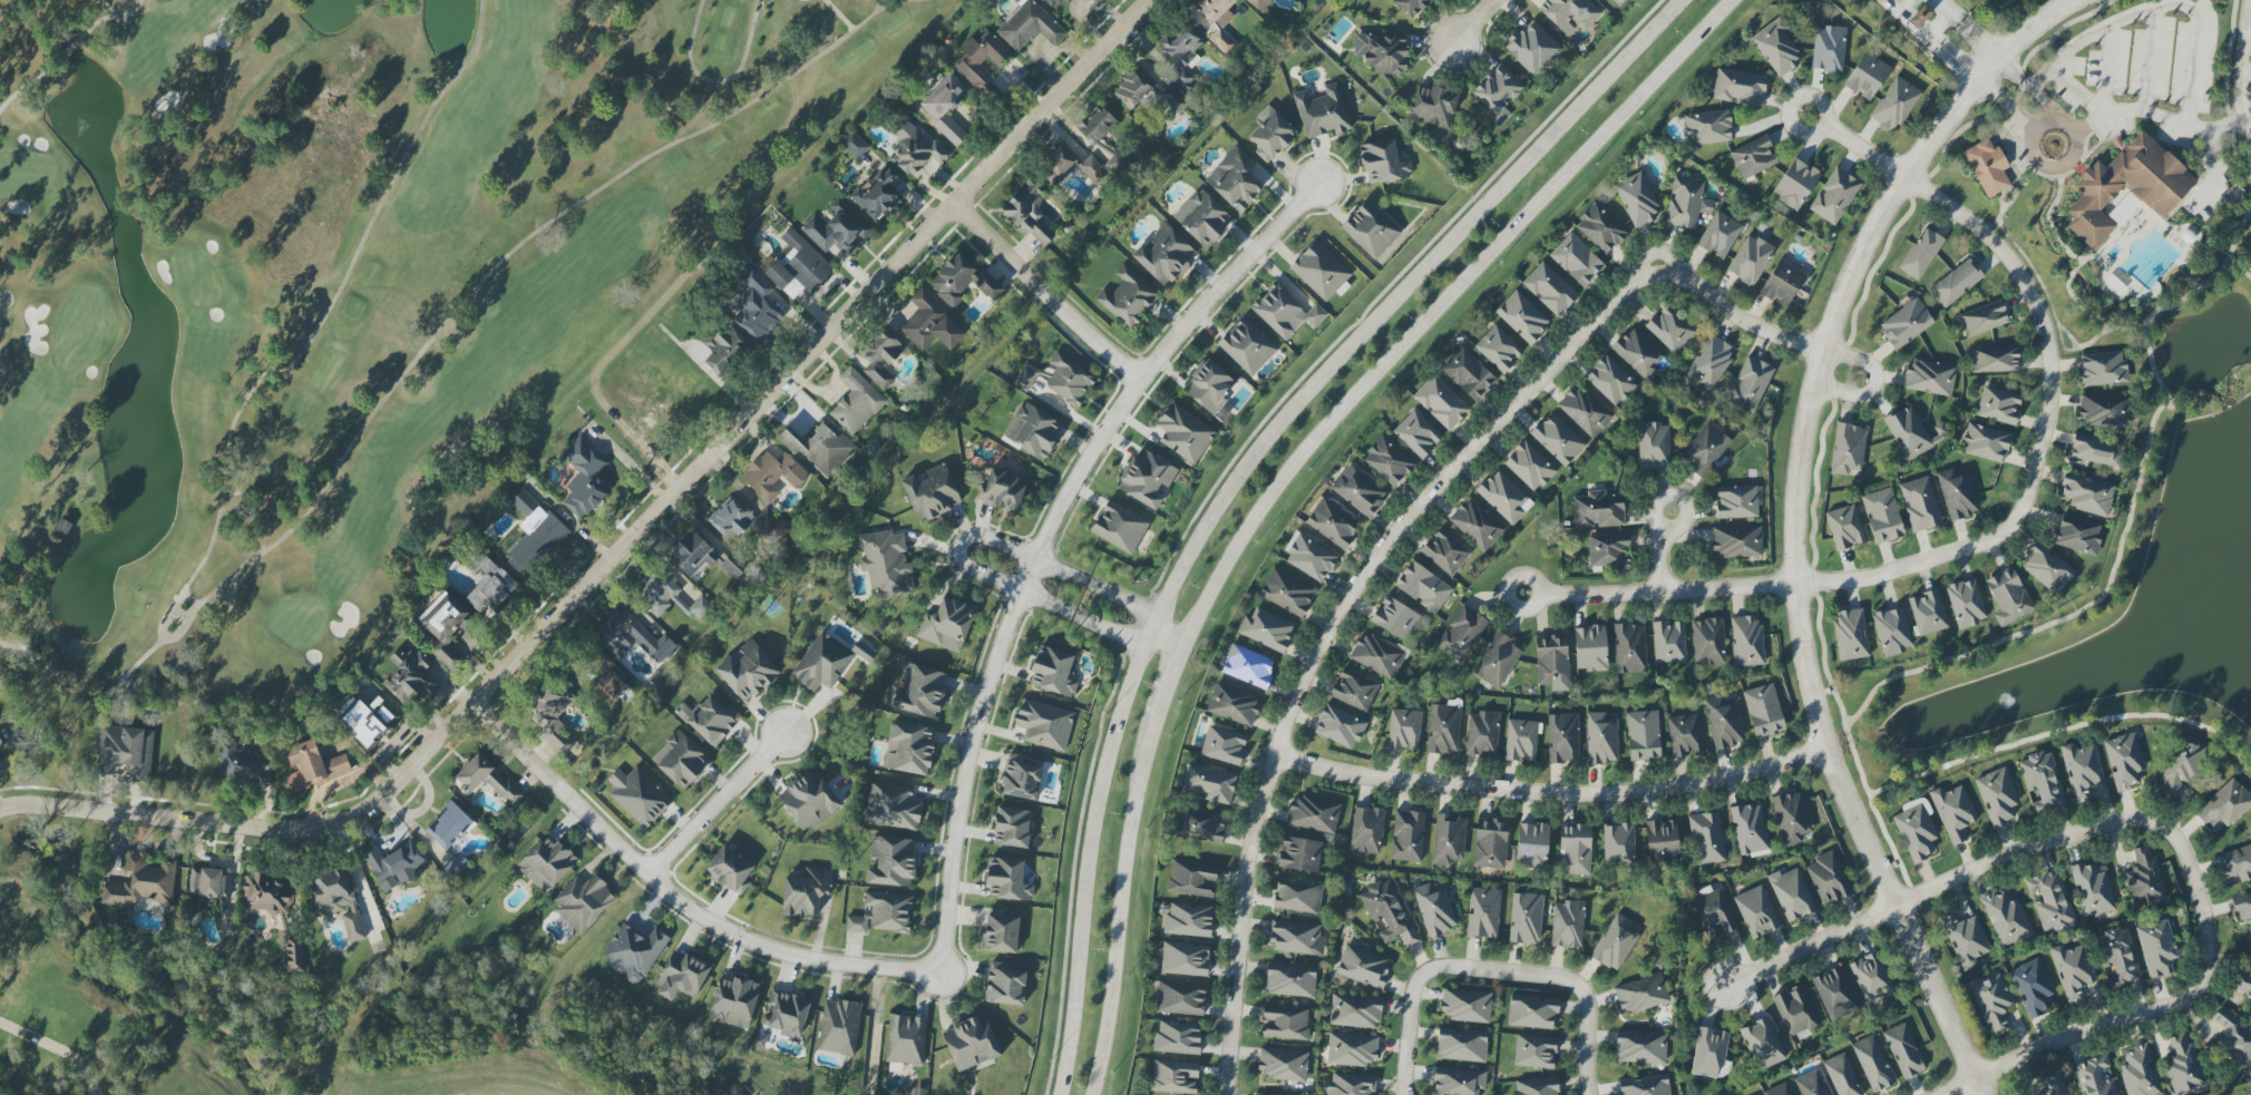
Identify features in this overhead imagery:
building: (1095, 1)
road: (3, 2)
building: (1054, 3)
building: (1264, 3)
building: (1411, 6)
road: (1890, 7)
road: (1903, 7)
road: (2190, 8)
road: (111, 12)
road: (878, 12)
road: (840, 14)
building: (1569, 14)
building: (1920, 17)
building: (1218, 21)
road: (1474, 21)
building: (1030, 27)
road: (1968, 28)
road: (2028, 31)
road: (70, 48)
building: (1532, 48)
road: (1936, 48)
building: (1776, 49)
building: (1828, 49)
building: (1382, 51)
building: (1181, 56)
building: (981, 60)
road: (2244, 63)
road: (2015, 72)
building: (1867, 77)
road: (718, 80)
road: (31, 82)
building: (1740, 87)
building: (1133, 88)
building: (1498, 92)
building: (1172, 99)
building: (1896, 104)
road: (2047, 104)
road: (2007, 106)
building: (1434, 107)
building: (946, 108)
road: (2126, 111)
building: (1323, 113)
building: (1098, 125)
building: (1708, 128)
road: (1812, 133)
building: (1271, 136)
building: (854, 145)
building: (915, 149)
building: (1753, 157)
building: (1112, 158)
road: (2066, 160)
building: (1384, 163)
building: (1071, 166)
building: (1988, 167)
building: (1235, 179)
building: (1795, 184)
building: (2127, 187)
building: (877, 194)
building: (1834, 196)
building: (1637, 201)
building: (1687, 203)
building: (1030, 217)
building: (1202, 218)
building: (838, 229)
building: (1371, 229)
building: (1600, 229)
building: (1719, 235)
road: (1002, 251)
building: (1921, 254)
building: (1165, 256)
building: (1750, 260)
building: (1577, 261)
building: (799, 265)
road: (2017, 268)
building: (1322, 271)
building: (954, 280)
building: (1783, 283)
building: (1957, 283)
building: (988, 286)
building: (1549, 289)
park: (344, 294)
building: (1128, 299)
road: (10, 303)
building: (758, 307)
building: (1285, 312)
building: (1522, 317)
building: (1984, 319)
building: (930, 324)
building: (1906, 324)
building: (1669, 329)
road: (1095, 339)
fountain: (2216, 344)
building: (723, 348)
building: (1247, 348)
building: (1498, 349)
building: (1638, 354)
building: (880, 359)
building: (1995, 360)
building: (1709, 362)
building: (2103, 369)
building: (1469, 374)
building: (1930, 377)
building: (1061, 379)
building: (1610, 381)
road: (1875, 382)
building: (1750, 384)
building: (1209, 388)
building: (657, 397)
building: (856, 402)
building: (1441, 402)
building: (1998, 405)
building: (1584, 411)
building: (2105, 411)
building: (1033, 431)
building: (1185, 433)
building: (1908, 433)
building: (1417, 434)
building: (1939, 437)
building: (1558, 440)
building: (1987, 442)
building: (1654, 446)
building: (1704, 448)
building: (820, 449)
building: (1848, 449)
building: (2096, 451)
building: (1387, 461)
building: (1529, 467)
building: (774, 476)
road: (1236, 477)
building: (585, 478)
road: (1284, 478)
building: (1146, 479)
building: (1003, 489)
building: (1358, 491)
building: (930, 493)
building: (1958, 493)
building: (2087, 493)
building: (1504, 497)
building: (1736, 502)
building: (1920, 505)
building: (1598, 510)
building: (1882, 516)
building: (729, 519)
building: (1333, 524)
building: (1475, 525)
road: (1656, 525)
building: (771, 526)
building: (1119, 527)
building: (1844, 527)
building: (62, 529)
building: (534, 534)
road: (1046, 535)
building: (2077, 535)
road: (630, 539)
building: (1737, 541)
road: (962, 545)
road: (1384, 546)
building: (1608, 550)
building: (1444, 553)
building: (693, 556)
building: (1309, 558)
road: (1662, 560)
road: (1921, 563)
building: (886, 564)
building: (2046, 568)
road: (1795, 575)
road: (1536, 583)
building: (490, 586)
building: (1423, 587)
building: (657, 590)
road: (1668, 592)
building: (1287, 593)
building: (2008, 596)
building: (1966, 604)
building: (700, 608)
road: (202, 612)
building: (1927, 613)
building: (1395, 617)
building: (947, 623)
building: (446, 627)
building: (1266, 629)
building: (1892, 632)
building: (1461, 633)
building: (1851, 635)
building: (631, 636)
road: (1168, 638)
building: (1668, 642)
building: (1708, 642)
building: (1747, 642)
building: (1590, 648)
building: (1630, 648)
building: (1376, 656)
building: (1497, 661)
building: (822, 663)
building: (1552, 663)
building: (1248, 666)
building: (748, 672)
building: (1053, 672)
building: (409, 678)
building: (610, 682)
building: (922, 691)
building: (1354, 691)
fountain: (1996, 700)
building: (1232, 705)
building: (1764, 711)
building: (552, 713)
building: (710, 720)
building: (370, 723)
building: (1724, 723)
building: (1044, 724)
building: (1339, 727)
building: (1404, 730)
building: (1444, 730)
building: (1482, 734)
building: (1684, 735)
building: (1643, 736)
building: (1562, 739)
building: (1601, 739)
building: (1521, 741)
building: (1, 745)
building: (1224, 745)
building: (909, 749)
road: (523, 750)
building: (126, 751)
building: (680, 760)
building: (2124, 762)
building: (313, 765)
building: (243, 766)
building: (2181, 766)
building: (2082, 771)
building: (1021, 779)
building: (488, 780)
building: (2042, 781)
building: (1208, 784)
road: (1553, 793)
road: (428, 794)
building: (639, 796)
building: (1997, 796)
building: (809, 801)
road: (718, 803)
building: (2225, 805)
building: (893, 806)
building: (1953, 812)
building: (1314, 814)
building: (1791, 818)
road: (408, 820)
building: (1199, 824)
building: (449, 827)
building: (1012, 828)
building: (1750, 829)
building: (1366, 830)
building: (1916, 830)
building: (1407, 835)
building: (1706, 839)
building: (1449, 840)
building: (1663, 840)
road: (388, 842)
building: (1490, 844)
building: (1618, 844)
building: (1532, 845)
building: (1575, 850)
building: (1300, 854)
building: (891, 861)
building: (547, 863)
building: (2235, 863)
building: (396, 864)
building: (730, 871)
road: (1963, 874)
building: (2144, 878)
building: (1008, 879)
building: (1192, 879)
building: (1828, 879)
building: (142, 883)
building: (209, 883)
building: (2092, 890)
building: (806, 891)
building: (1791, 894)
building: (1299, 896)
building: (338, 901)
building: (583, 902)
building: (2052, 903)
building: (2242, 907)
building: (1435, 909)
building: (276, 912)
building: (1388, 912)
building: (1712, 912)
building: (1756, 912)
building: (883, 913)
building: (1483, 913)
building: (1526, 918)
building: (2006, 918)
building: (1188, 920)
building: (226, 922)
building: (1567, 925)
road: (731, 932)
building: (1001, 933)
building: (1296, 938)
building: (1965, 939)
building: (1615, 944)
building: (2157, 948)
building: (635, 951)
building: (2117, 957)
building: (1185, 959)
building: (1363, 967)
building: (2072, 971)
building: (682, 976)
building: (1871, 979)
building: (1290, 980)
building: (1004, 985)
building: (2243, 985)
building: (2033, 988)
road: (1410, 989)
building: (1641, 994)
building: (1834, 994)
building: (1180, 998)
road: (1586, 998)
building: (734, 1001)
building: (1992, 1003)
building: (1466, 1005)
building: (1355, 1011)
building: (1532, 1011)
building: (1795, 1013)
building: (786, 1014)
road: (2128, 1017)
building: (1285, 1023)
building: (839, 1027)
building: (2233, 1037)
building: (1177, 1038)
building: (905, 1039)
building: (971, 1044)
building: (1763, 1044)
building: (1462, 1045)
building: (1640, 1047)
building: (1352, 1049)
building: (1534, 1052)
building: (1903, 1052)
building: (1709, 1053)
building: (1283, 1064)
building: (1873, 1064)
building: (2183, 1066)
building: (2138, 1073)
building: (1842, 1076)
building: (1175, 1077)
building: (2094, 1077)
building: (1459, 1082)
building: (1810, 1084)
building: (1352, 1085)
building: (1646, 1085)
building: (2055, 1085)
building: (1537, 1086)
building: (1779, 1091)
building: (1288, 1094)

